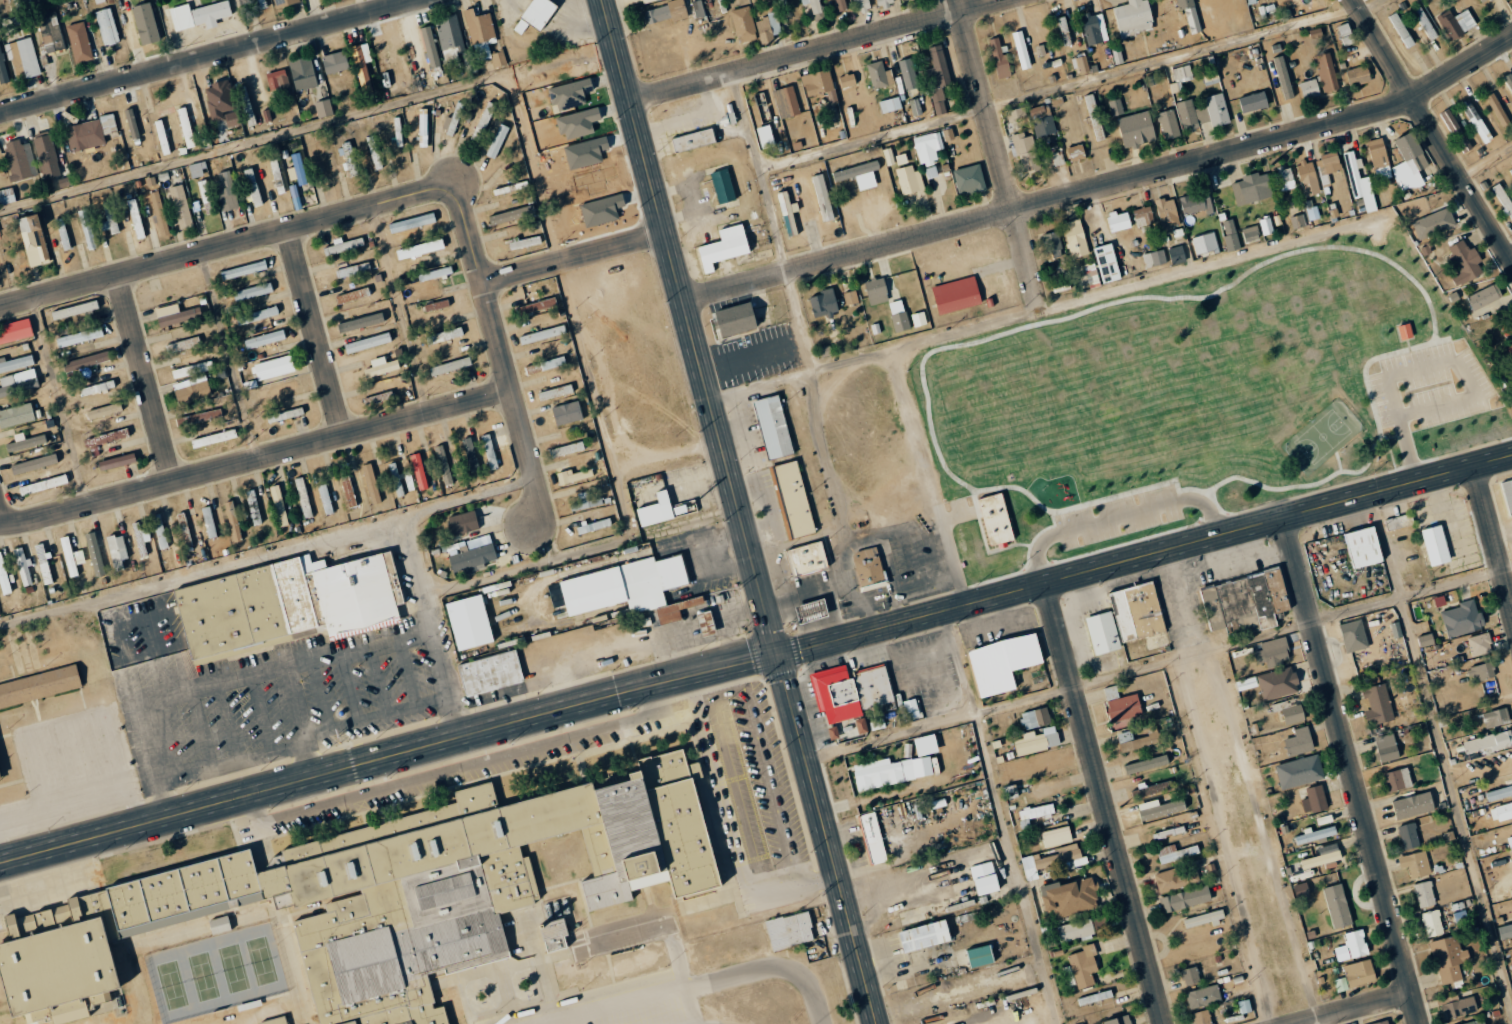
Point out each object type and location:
building: (1511, 0)
building: (1483, 1)
building: (634, 2)
building: (284, 3)
building: (884, 3)
building: (261, 4)
building: (839, 5)
building: (862, 5)
building: (787, 6)
building: (812, 8)
building: (698, 9)
building: (666, 12)
building: (1190, 14)
building: (199, 15)
building: (535, 15)
building: (1133, 18)
building: (1456, 23)
building: (145, 24)
building: (743, 24)
building: (1425, 24)
building: (106, 26)
building: (768, 26)
building: (1094, 29)
building: (1401, 30)
building: (51, 33)
building: (480, 33)
building: (1315, 33)
building: (1346, 34)
building: (450, 39)
building: (79, 42)
building: (430, 47)
building: (1021, 50)
road: (816, 51)
road: (204, 55)
building: (1117, 56)
building: (23, 57)
building: (999, 57)
building: (499, 59)
building: (335, 62)
building: (1083, 64)
building: (362, 65)
building: (2, 69)
building: (303, 73)
building: (907, 73)
building: (1326, 73)
building: (877, 74)
building: (1181, 75)
building: (1358, 75)
building: (937, 78)
building: (1283, 78)
building: (277, 79)
building: (847, 80)
building: (1509, 80)
building: (820, 85)
road: (1065, 88)
building: (1309, 88)
building: (219, 92)
building: (787, 102)
building: (1253, 102)
building: (890, 104)
building: (914, 107)
building: (1115, 107)
building: (323, 108)
building: (1497, 109)
building: (1203, 113)
building: (1015, 114)
building: (1094, 117)
building: (232, 119)
building: (726, 120)
building: (452, 121)
building: (1476, 121)
building: (482, 122)
building: (1041, 122)
building: (132, 123)
building: (108, 124)
building: (1168, 124)
building: (186, 127)
building: (423, 127)
road: (308, 129)
building: (1136, 129)
road: (1432, 129)
building: (1455, 130)
building: (84, 135)
building: (948, 135)
building: (398, 136)
building: (162, 137)
building: (765, 137)
building: (693, 140)
building: (497, 141)
building: (928, 147)
building: (374, 152)
building: (1411, 152)
building: (1026, 153)
building: (1076, 153)
road: (996, 155)
building: (47, 156)
building: (322, 158)
building: (1379, 158)
building: (348, 159)
building: (901, 159)
building: (1056, 159)
road: (1486, 159)
building: (20, 160)
building: (1328, 163)
building: (197, 169)
building: (297, 169)
building: (1510, 170)
road: (757, 171)
building: (931, 172)
building: (1356, 173)
building: (859, 175)
building: (1284, 178)
building: (1307, 178)
building: (909, 179)
building: (969, 180)
road: (1105, 181)
building: (251, 186)
building: (722, 186)
building: (510, 188)
building: (1252, 188)
building: (204, 191)
building: (226, 191)
building: (7, 196)
building: (822, 198)
building: (1503, 200)
building: (1196, 202)
building: (180, 206)
building: (1312, 212)
building: (159, 213)
building: (1167, 213)
building: (511, 215)
building: (1143, 216)
building: (790, 217)
building: (109, 219)
building: (136, 219)
building: (1119, 220)
building: (1297, 221)
building: (1433, 223)
building: (1266, 225)
building: (87, 229)
building: (1250, 233)
building: (63, 234)
building: (1230, 234)
building: (1075, 238)
building: (34, 240)
building: (525, 242)
building: (1205, 243)
building: (1052, 244)
building: (343, 245)
road: (227, 246)
building: (724, 247)
building: (420, 249)
building: (1177, 255)
building: (1154, 258)
road: (576, 260)
building: (1464, 262)
building: (1107, 263)
building: (352, 269)
building: (243, 270)
building: (435, 273)
building: (1086, 275)
building: (890, 287)
building: (876, 290)
building: (252, 291)
building: (352, 295)
building: (956, 295)
building: (1484, 296)
building: (851, 297)
building: (824, 303)
building: (436, 305)
building: (536, 306)
road: (569, 306)
road: (1049, 308)
building: (74, 309)
building: (172, 315)
building: (257, 315)
building: (898, 315)
building: (918, 318)
building: (735, 319)
building: (360, 322)
building: (875, 328)
building: (1507, 328)
building: (15, 330)
building: (1405, 331)
road: (318, 332)
building: (542, 334)
building: (444, 335)
building: (79, 336)
building: (264, 339)
building: (367, 342)
building: (183, 344)
building: (1509, 350)
road: (502, 355)
building: (85, 361)
building: (16, 363)
building: (553, 363)
building: (450, 366)
building: (273, 367)
building: (381, 367)
building: (192, 369)
building: (533, 369)
road: (146, 379)
building: (18, 382)
road: (766, 383)
building: (97, 388)
building: (191, 389)
building: (278, 389)
building: (555, 392)
park: (1144, 409)
building: (104, 411)
building: (567, 412)
building: (16, 415)
building: (285, 415)
building: (201, 416)
park: (1157, 422)
building: (773, 426)
building: (107, 437)
building: (213, 438)
building: (26, 443)
building: (566, 449)
building: (489, 451)
building: (470, 454)
road: (256, 460)
building: (117, 461)
building: (33, 464)
building: (446, 467)
building: (419, 471)
building: (575, 476)
road: (929, 478)
building: (399, 479)
building: (371, 483)
building: (43, 484)
building: (348, 491)
building: (1507, 494)
building: (303, 497)
building: (325, 499)
building: (793, 499)
building: (585, 501)
building: (279, 505)
building: (253, 507)
building: (684, 508)
building: (656, 510)
road: (743, 511)
road: (2, 515)
building: (995, 517)
building: (233, 521)
building: (1398, 521)
building: (209, 522)
building: (463, 523)
building: (185, 528)
building: (159, 531)
road: (1493, 538)
building: (140, 539)
road: (551, 543)
building: (1435, 543)
building: (1363, 547)
building: (117, 551)
road: (580, 552)
road: (268, 554)
building: (71, 557)
building: (807, 558)
building: (43, 565)
building: (23, 567)
building: (868, 568)
building: (3, 576)
building: (630, 588)
building: (338, 593)
building: (1246, 600)
road: (420, 604)
building: (811, 611)
building: (1137, 611)
building: (232, 612)
building: (653, 617)
building: (1462, 618)
building: (469, 622)
building: (706, 623)
building: (1103, 633)
building: (1353, 635)
building: (1425, 639)
building: (1479, 644)
building: (1272, 652)
traffic signals: (782, 657)
road: (1160, 661)
building: (1003, 662)
road: (756, 663)
building: (490, 672)
building: (1481, 672)
building: (1277, 683)
building: (39, 686)
building: (851, 698)
building: (1377, 705)
building: (1121, 706)
building: (911, 708)
building: (1292, 714)
road: (452, 716)
building: (1496, 717)
building: (1035, 718)
building: (1138, 740)
building: (1035, 742)
building: (1299, 742)
building: (1489, 742)
building: (1386, 747)
road: (1440, 759)
building: (1146, 764)
building: (1299, 771)
road: (1353, 771)
building: (891, 772)
building: (1397, 779)
building: (0, 780)
road: (1213, 789)
building: (1499, 793)
building: (1316, 798)
road: (1104, 804)
building: (1413, 805)
building: (1159, 808)
building: (1501, 812)
building: (1033, 813)
road: (1001, 817)
building: (1324, 819)
road: (731, 830)
building: (1168, 832)
building: (1316, 834)
building: (1056, 836)
building: (1408, 836)
building: (872, 838)
building: (1175, 853)
building: (1323, 856)
building: (1050, 860)
building: (1415, 863)
building: (984, 878)
building: (1174, 880)
building: (1301, 890)
building: (1424, 894)
building: (382, 895)
building: (1069, 897)
building: (1185, 899)
building: (1337, 906)
building: (1203, 919)
building: (1432, 923)
building: (219, 925)
building: (1080, 929)
building: (789, 931)
building: (1505, 932)
building: (554, 936)
building: (924, 936)
building: (1352, 946)
building: (980, 956)
building: (1449, 959)
building: (1084, 966)
park: (218, 973)
building: (1356, 975)
building: (1190, 976)
road: (713, 985)
building: (1203, 996)
building: (1245, 1006)
building: (1456, 1007)
road: (690, 1008)
road: (1358, 1008)
building: (1202, 1017)
building: (1119, 1020)
building: (277, 1021)
road: (1315, 1022)
building: (1381, 1022)
building: (1478, 1022)

